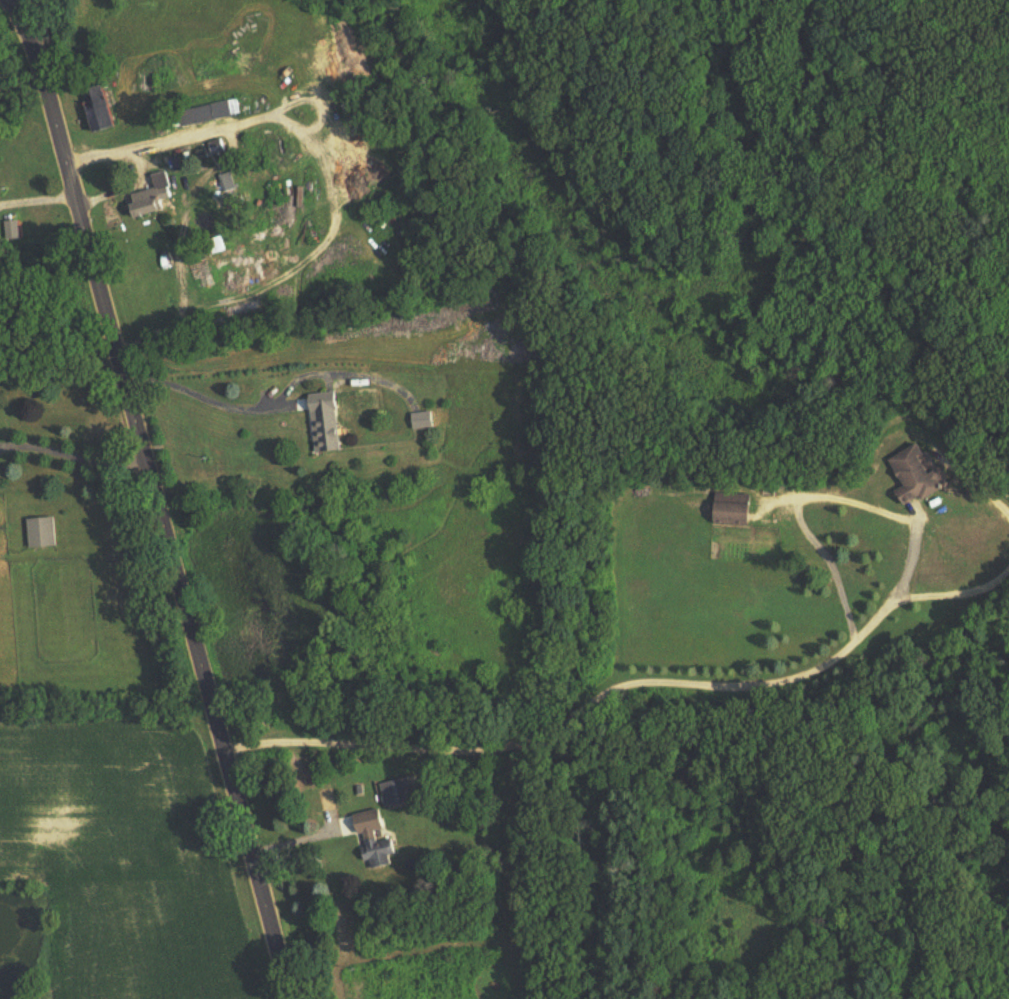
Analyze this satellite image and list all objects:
road: (22, 8)
road: (32, 8)
building: (101, 108)
building: (213, 109)
road: (143, 146)
building: (217, 146)
building: (153, 195)
road: (39, 198)
building: (218, 244)
road: (201, 397)
building: (421, 419)
building: (325, 422)
road: (74, 454)
building: (920, 473)
road: (982, 485)
building: (737, 507)
road: (161, 508)
building: (41, 532)
road: (957, 586)
road: (740, 684)
building: (395, 792)
building: (374, 838)

